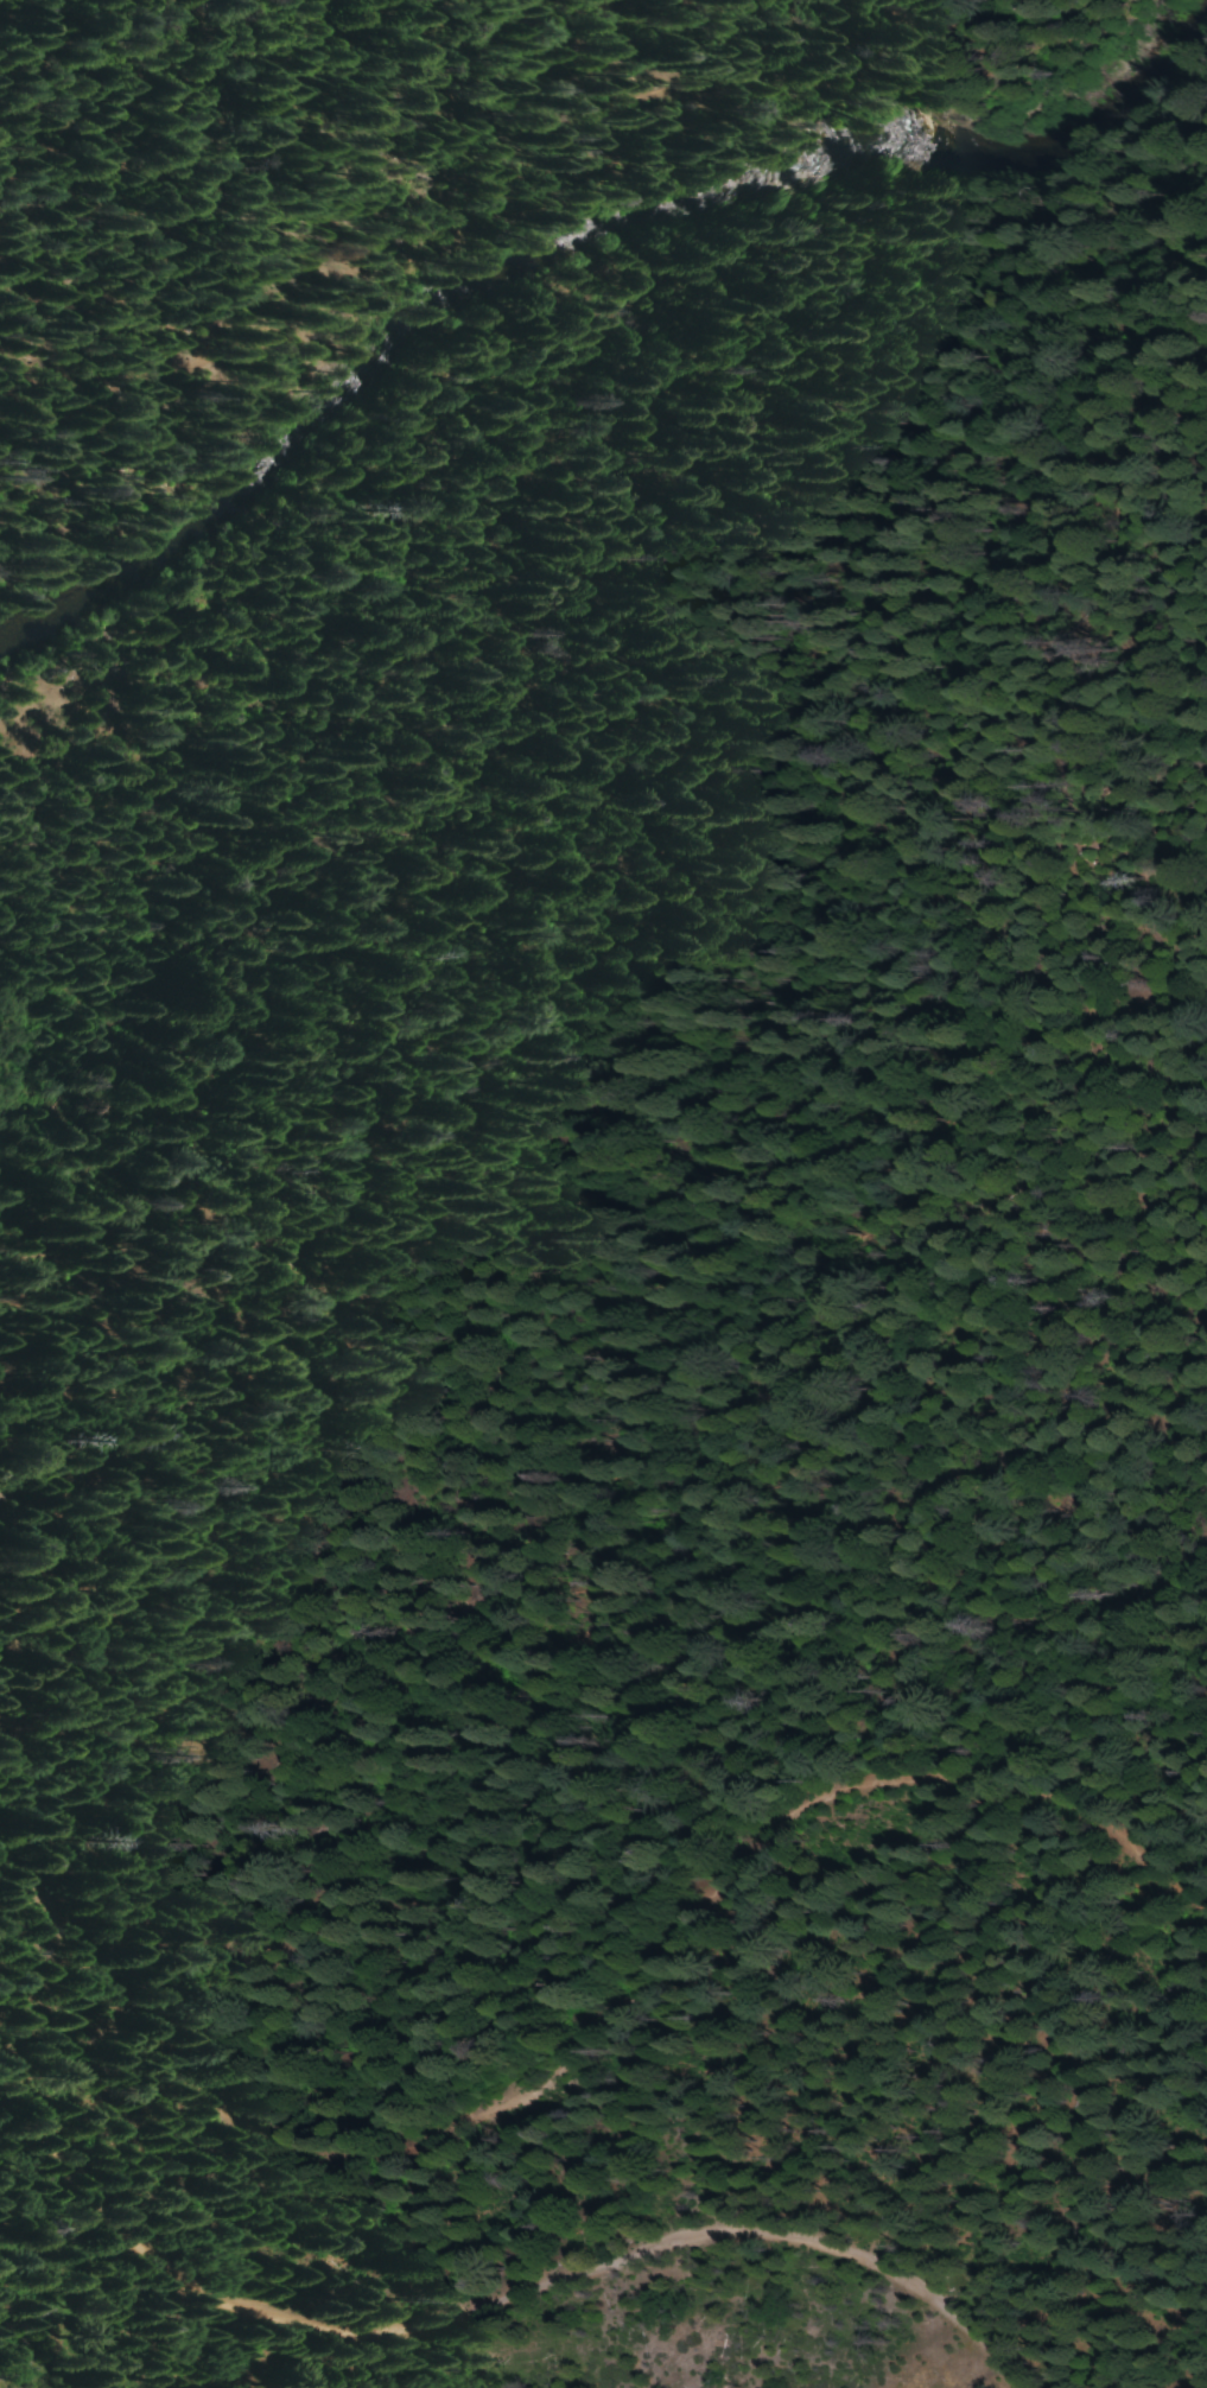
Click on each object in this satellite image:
river: (565, 258)
road: (580, 2043)
road: (481, 2308)

